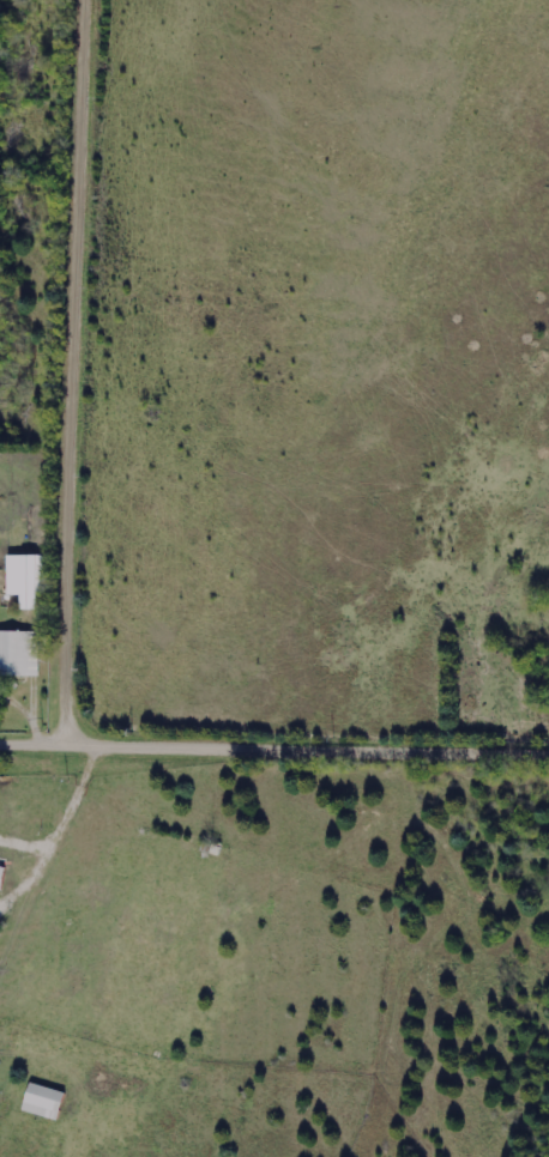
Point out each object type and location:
building: (25, 595)
road: (62, 604)
building: (18, 654)
road: (41, 735)
road: (78, 789)
road: (26, 842)
building: (2, 868)
road: (34, 877)
building: (46, 1103)

